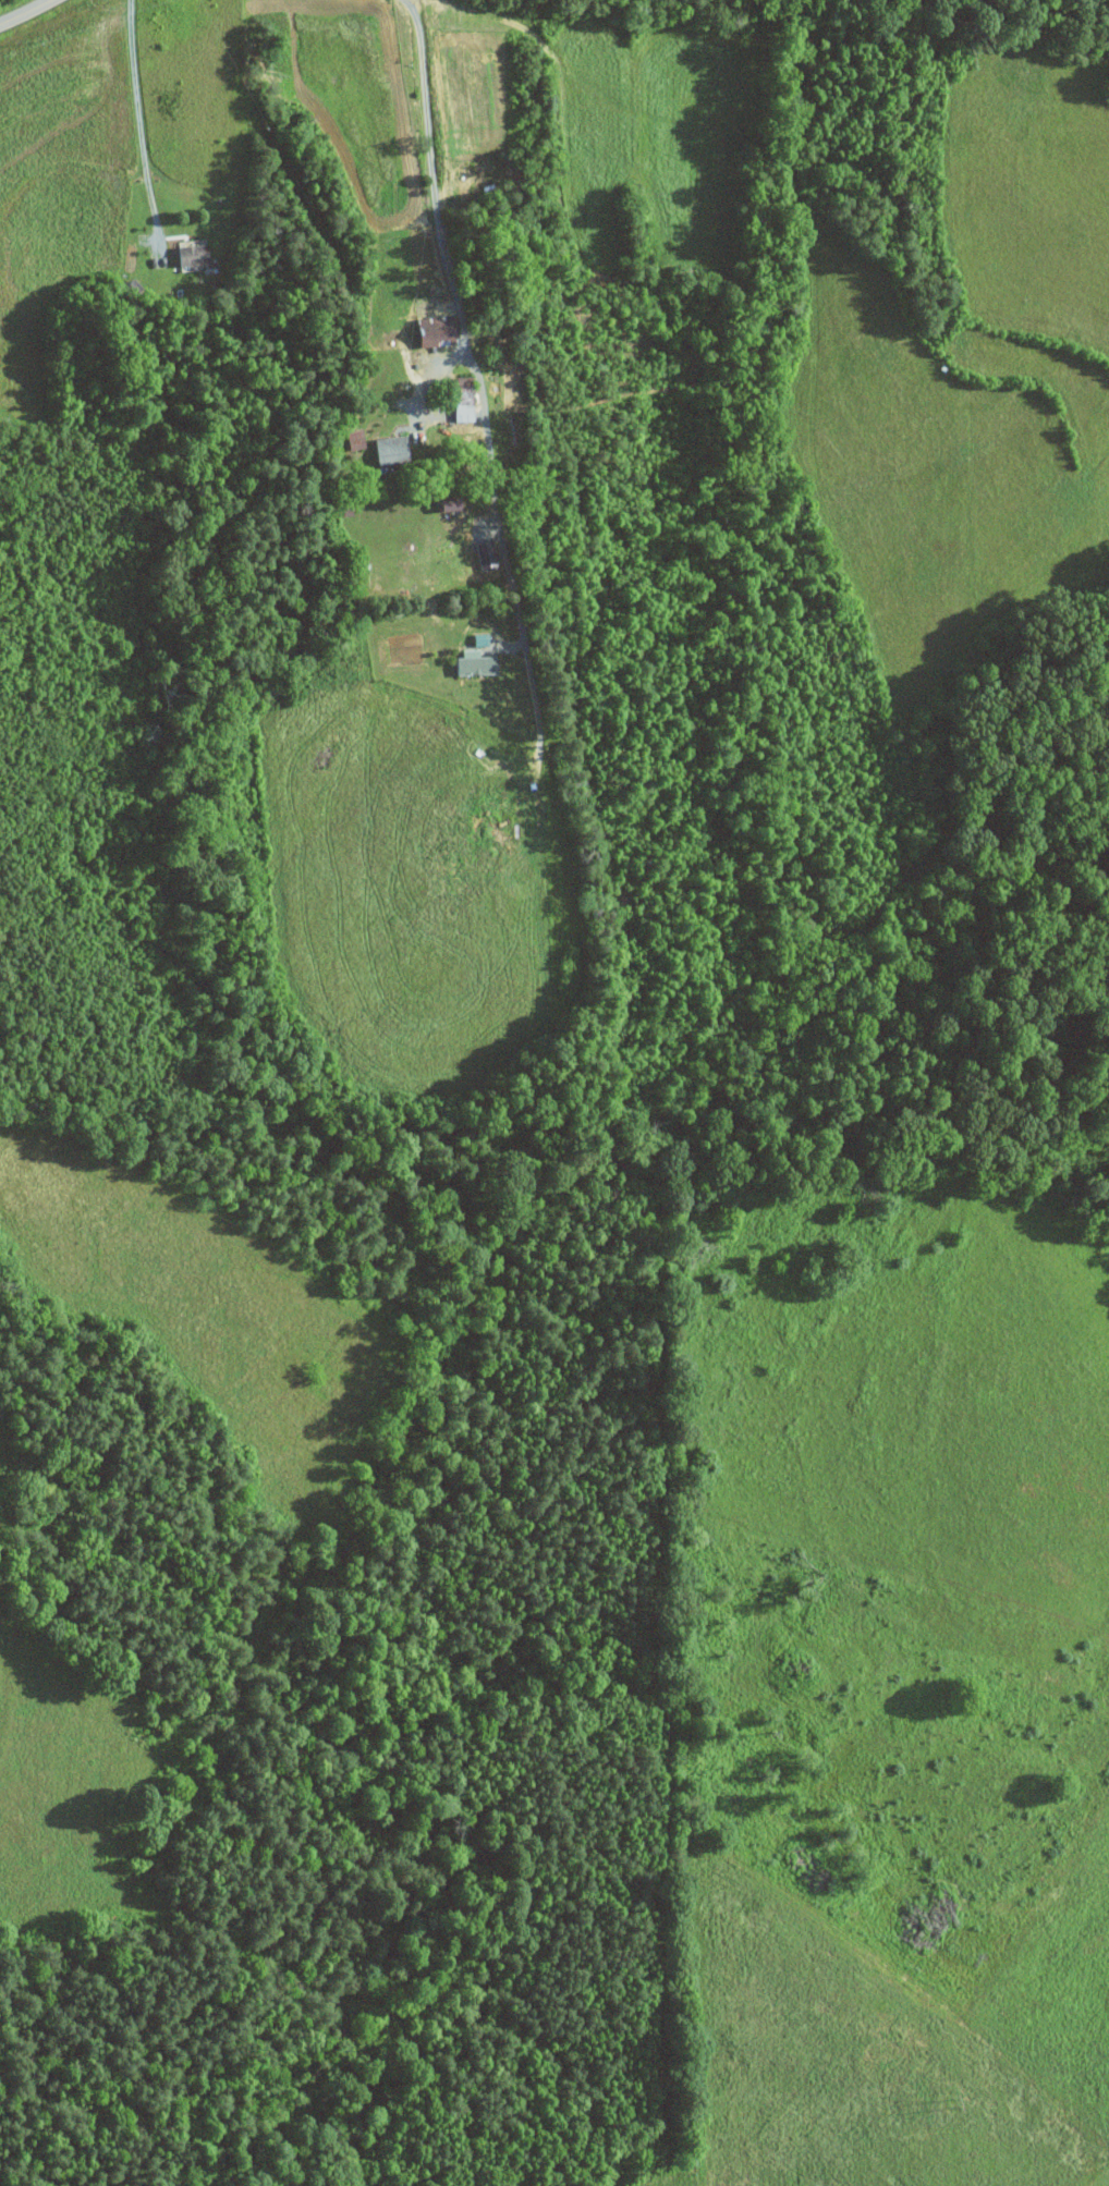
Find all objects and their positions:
road: (25, 10)
road: (137, 122)
building: (190, 253)
road: (460, 321)
building: (430, 328)
road: (427, 382)
building: (459, 389)
building: (459, 412)
building: (387, 449)
building: (483, 553)
building: (472, 662)

